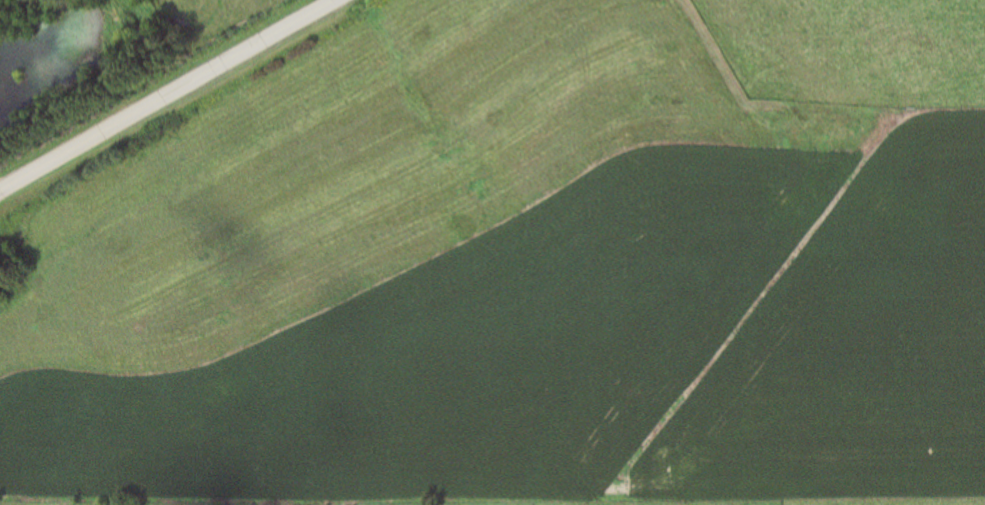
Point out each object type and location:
road: (178, 103)

